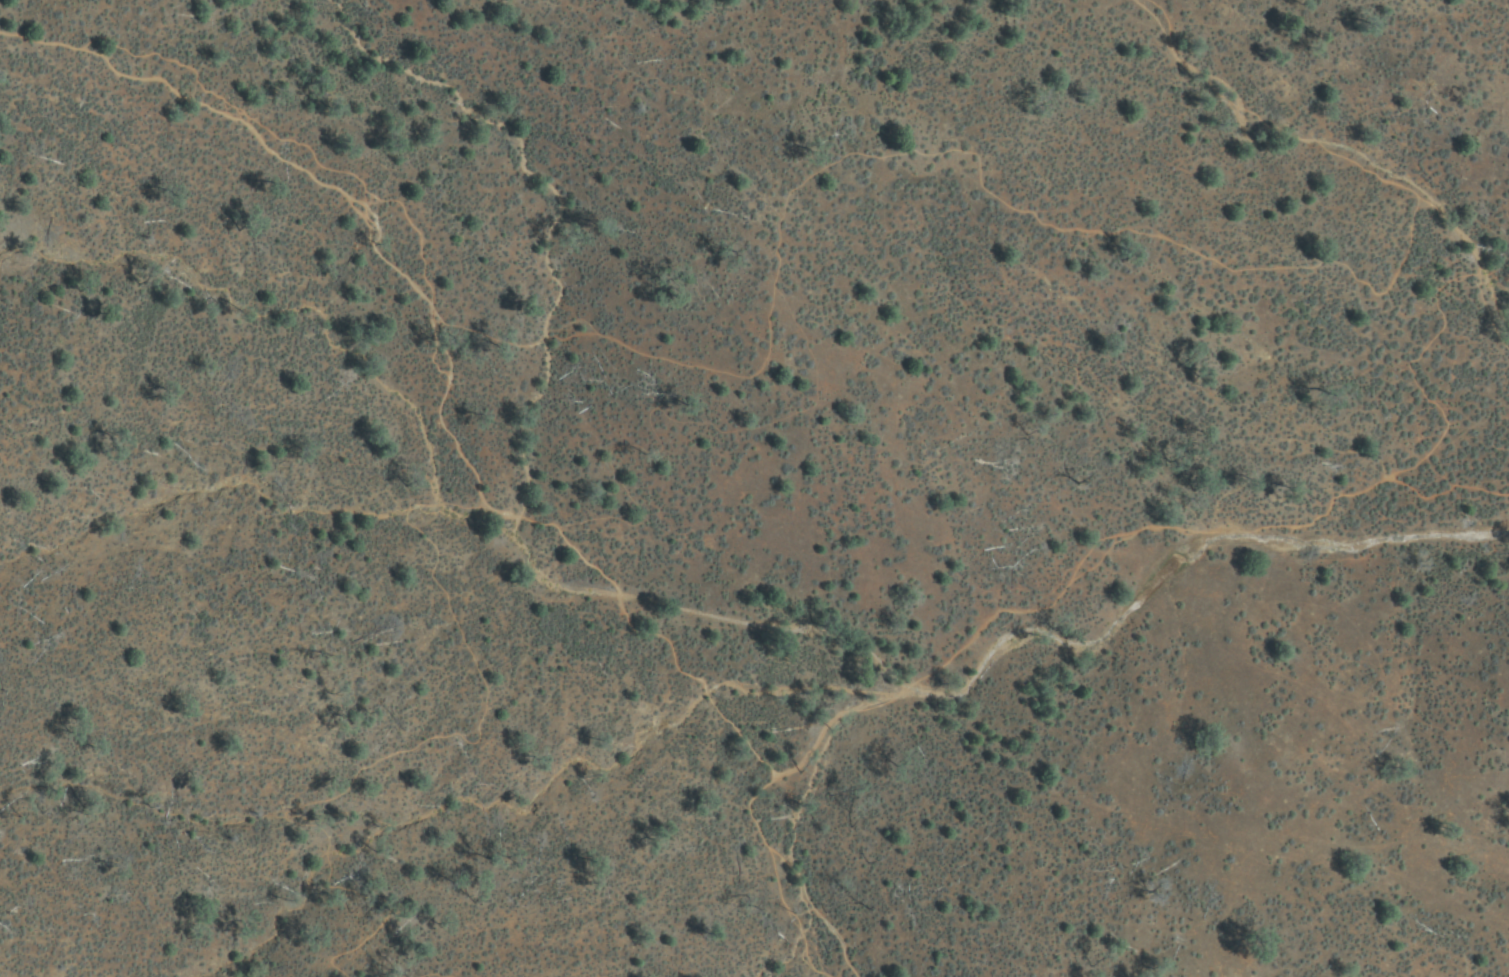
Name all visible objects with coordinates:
road: (326, 186)
road: (1387, 474)
road: (634, 628)
road: (401, 749)
road: (793, 874)
road: (448, 972)

